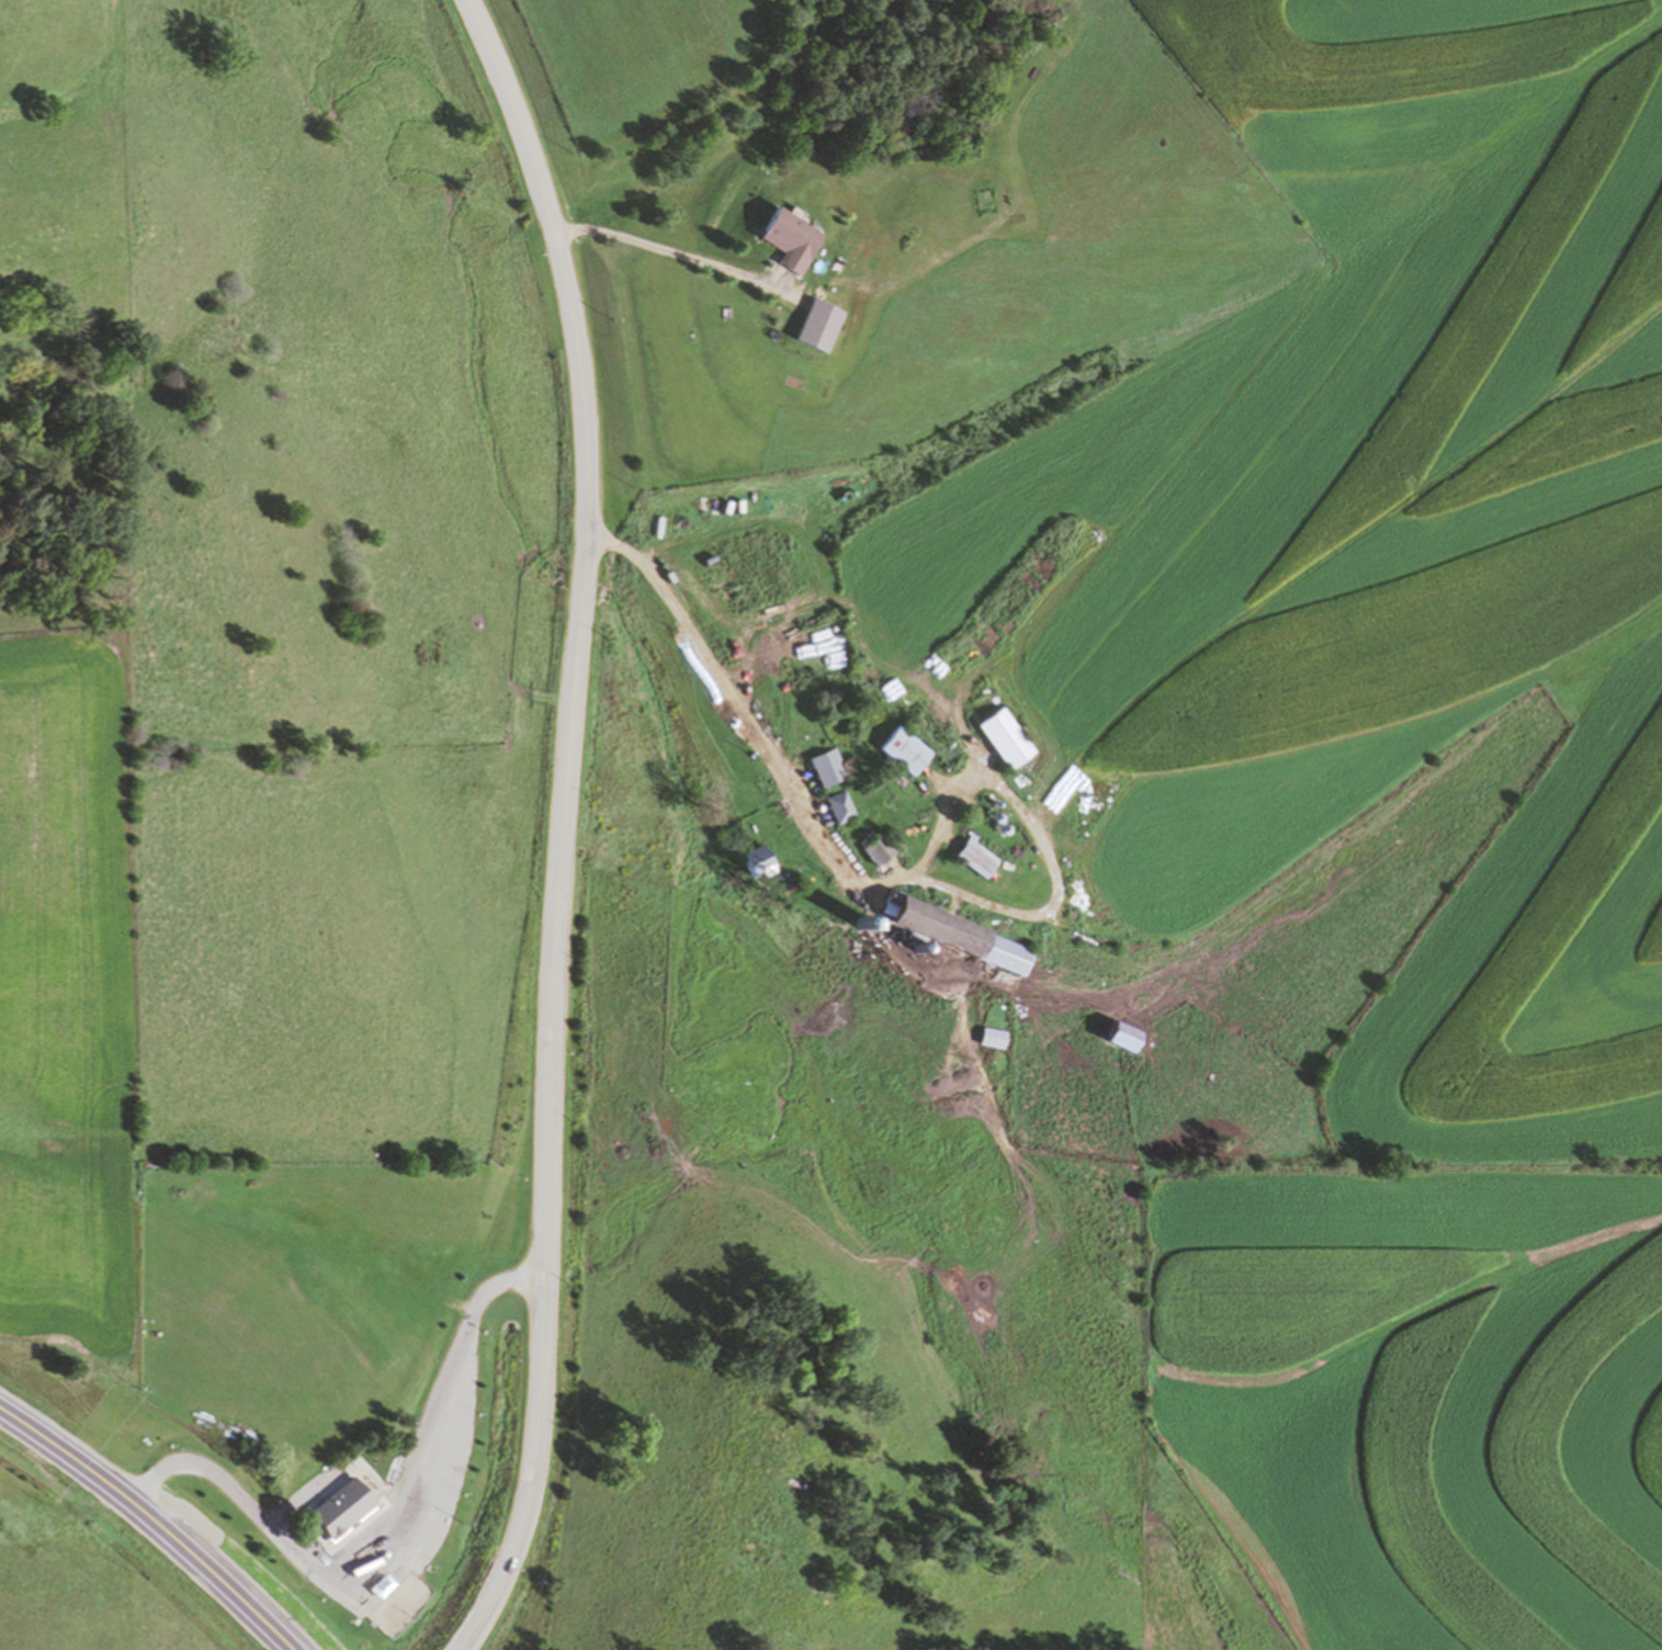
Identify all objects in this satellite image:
building: (791, 239)
building: (1005, 738)
building: (904, 749)
building: (825, 767)
building: (838, 806)
road: (561, 824)
building: (878, 849)
road: (825, 850)
building: (974, 857)
building: (760, 863)
building: (960, 936)
building: (1123, 1037)
building: (992, 1038)
road: (65, 1450)
building: (350, 1481)
road: (385, 1535)
road: (212, 1572)

